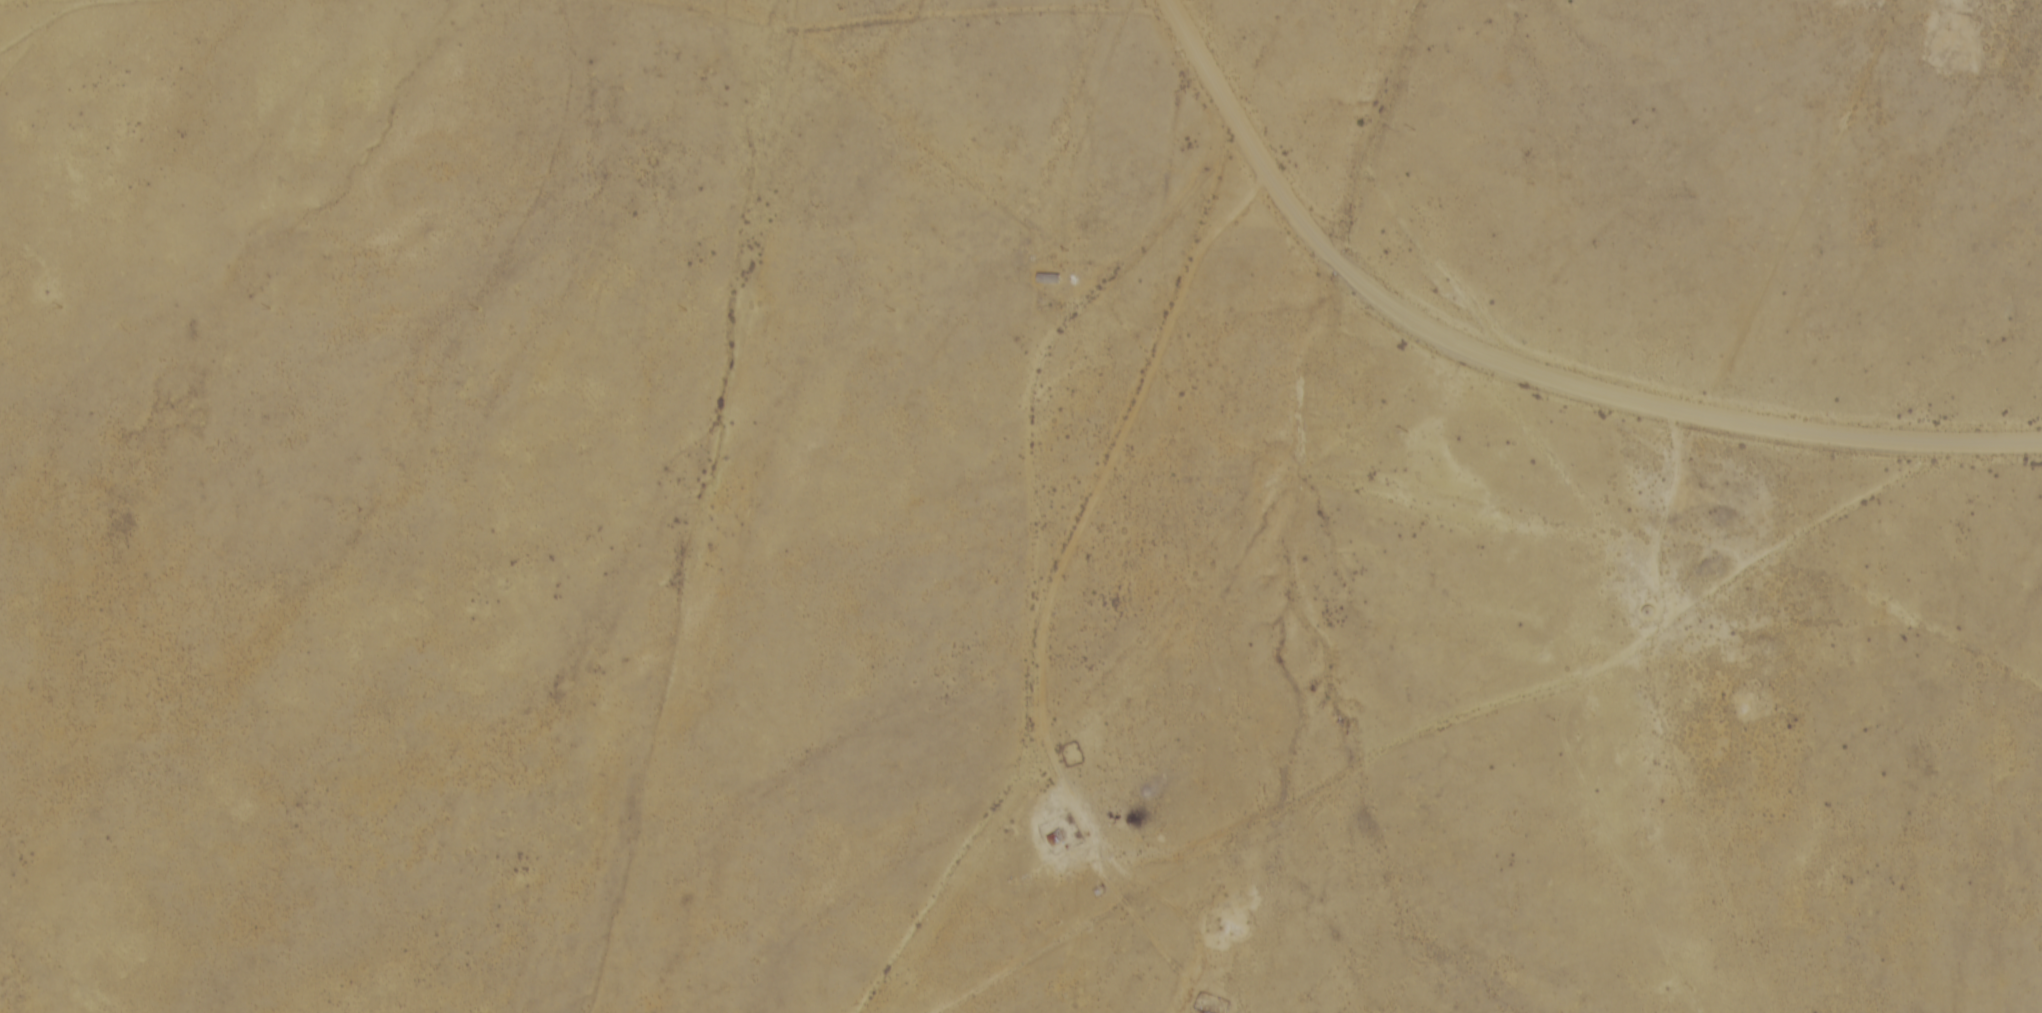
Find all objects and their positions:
building: (1045, 279)
road: (1519, 372)
building: (1054, 838)

